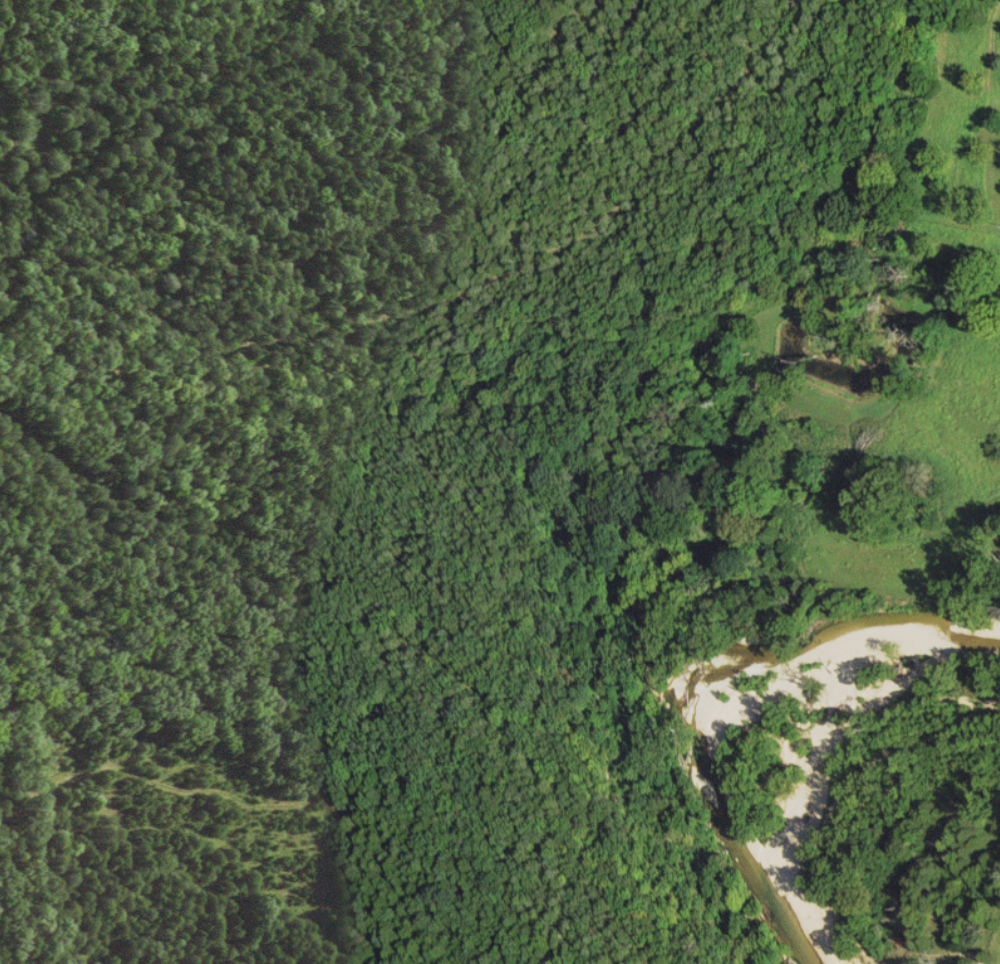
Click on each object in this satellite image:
road: (998, 57)

